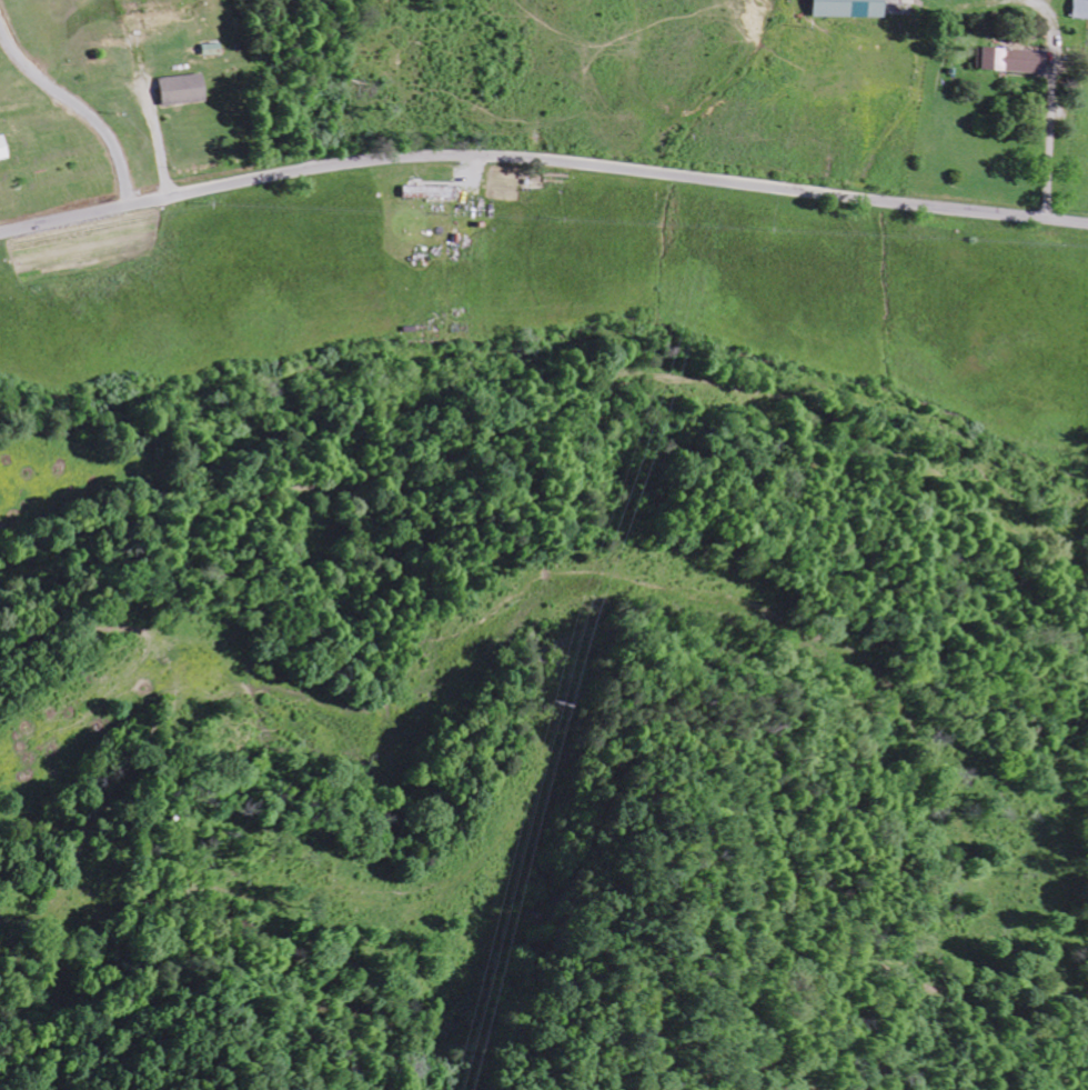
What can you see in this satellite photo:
building: (854, 8)
building: (1081, 9)
building: (1017, 60)
building: (185, 88)
road: (81, 109)
building: (4, 149)
road: (542, 160)
building: (430, 191)
road: (39, 317)

